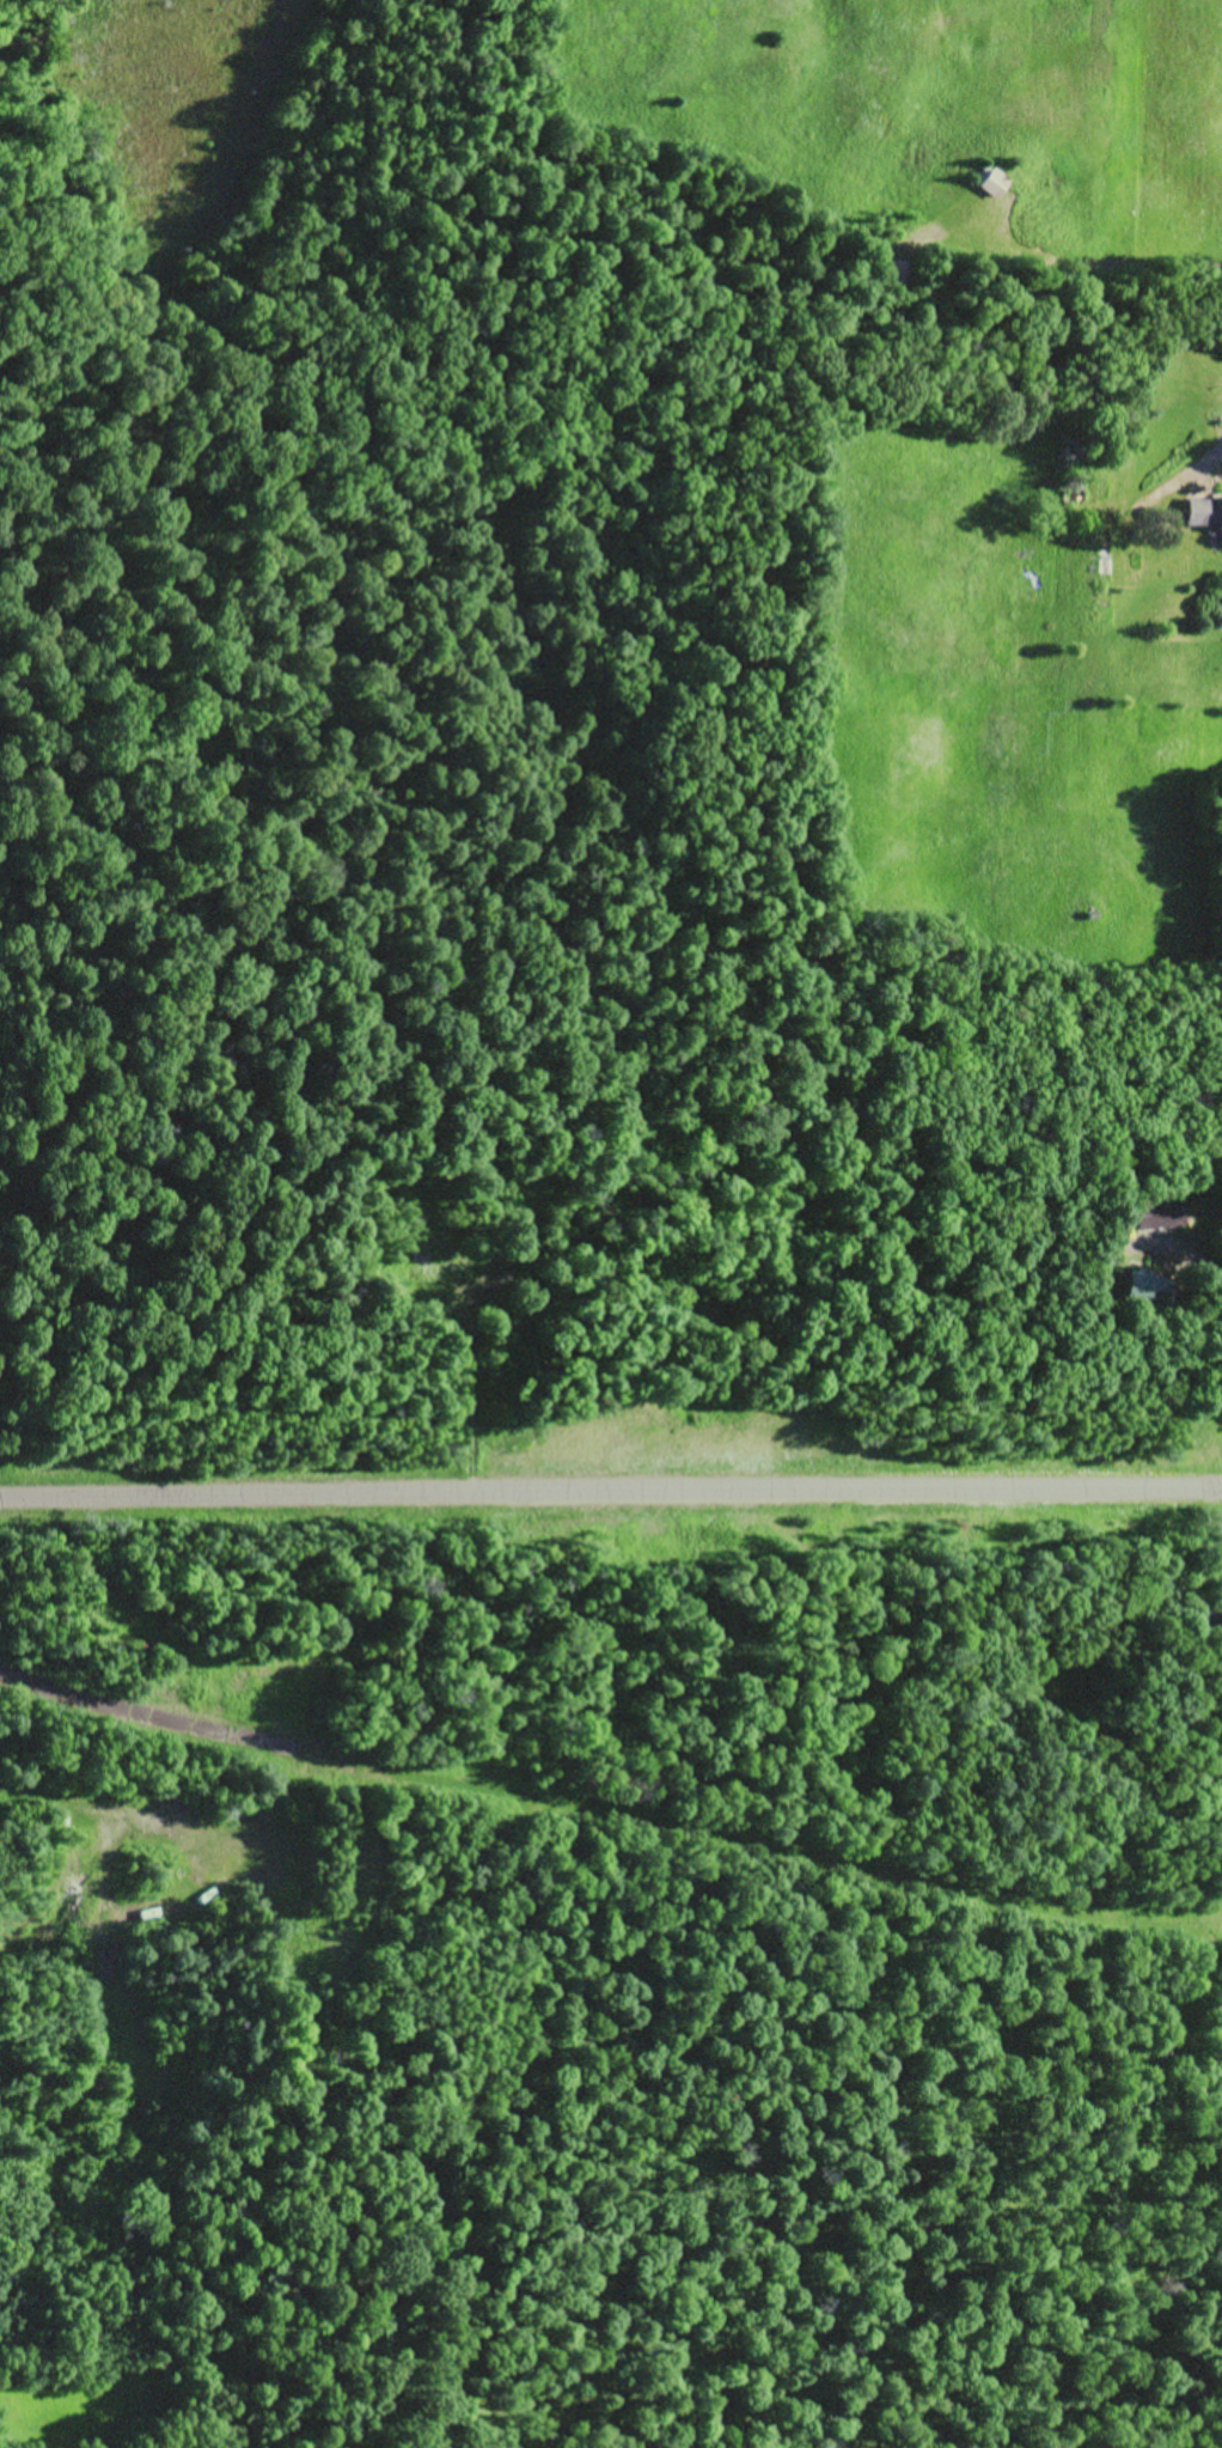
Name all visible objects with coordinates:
building: (991, 187)
building: (897, 280)
building: (1204, 516)
building: (1159, 1219)
building: (1141, 1295)
road: (611, 1496)
building: (1220, 1576)
building: (1211, 1619)
road: (604, 1839)

